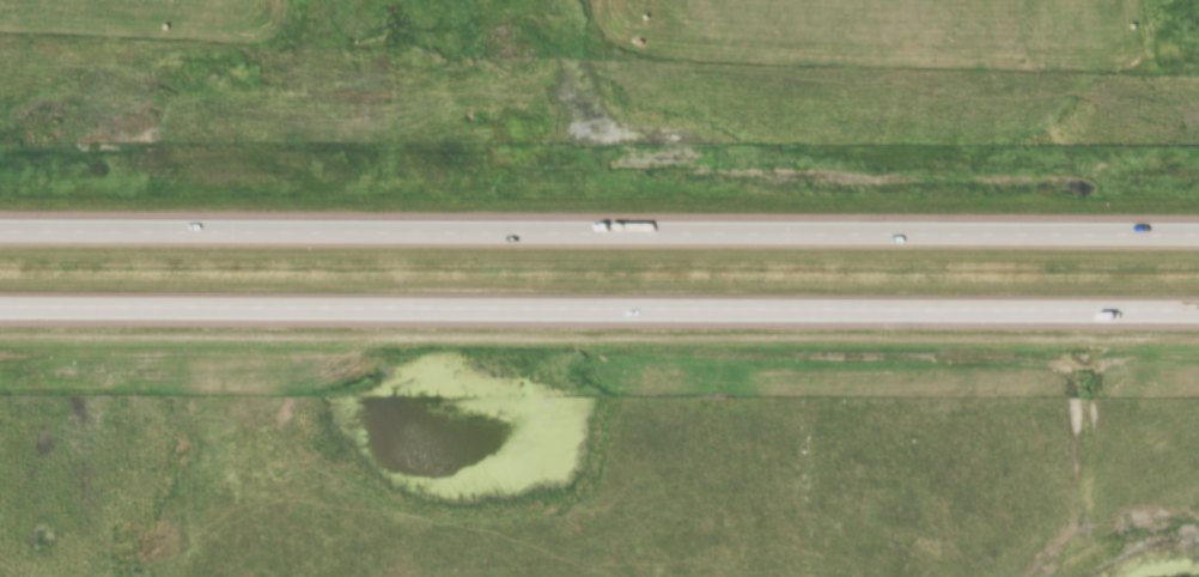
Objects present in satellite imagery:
road: (599, 236)
building: (461, 315)
road: (599, 315)

